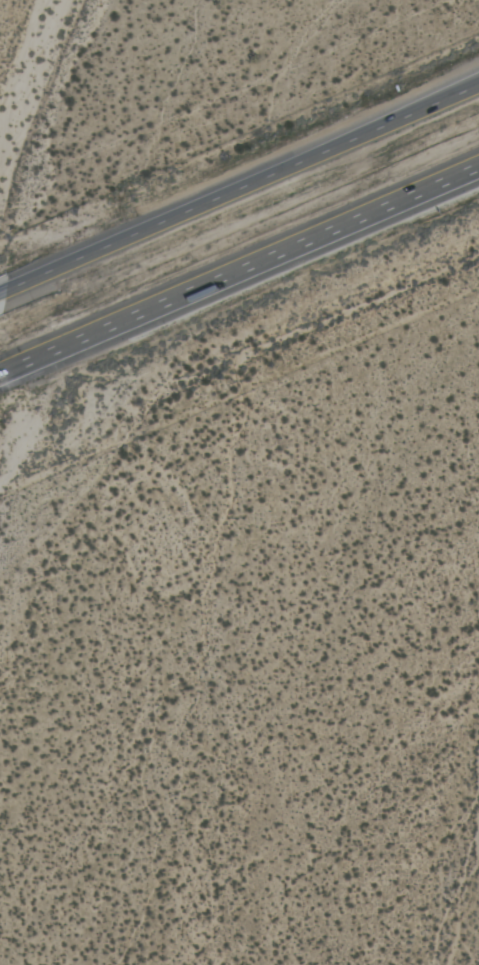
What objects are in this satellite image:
road: (243, 187)
railway: (239, 238)
road: (239, 274)
road: (3, 293)

